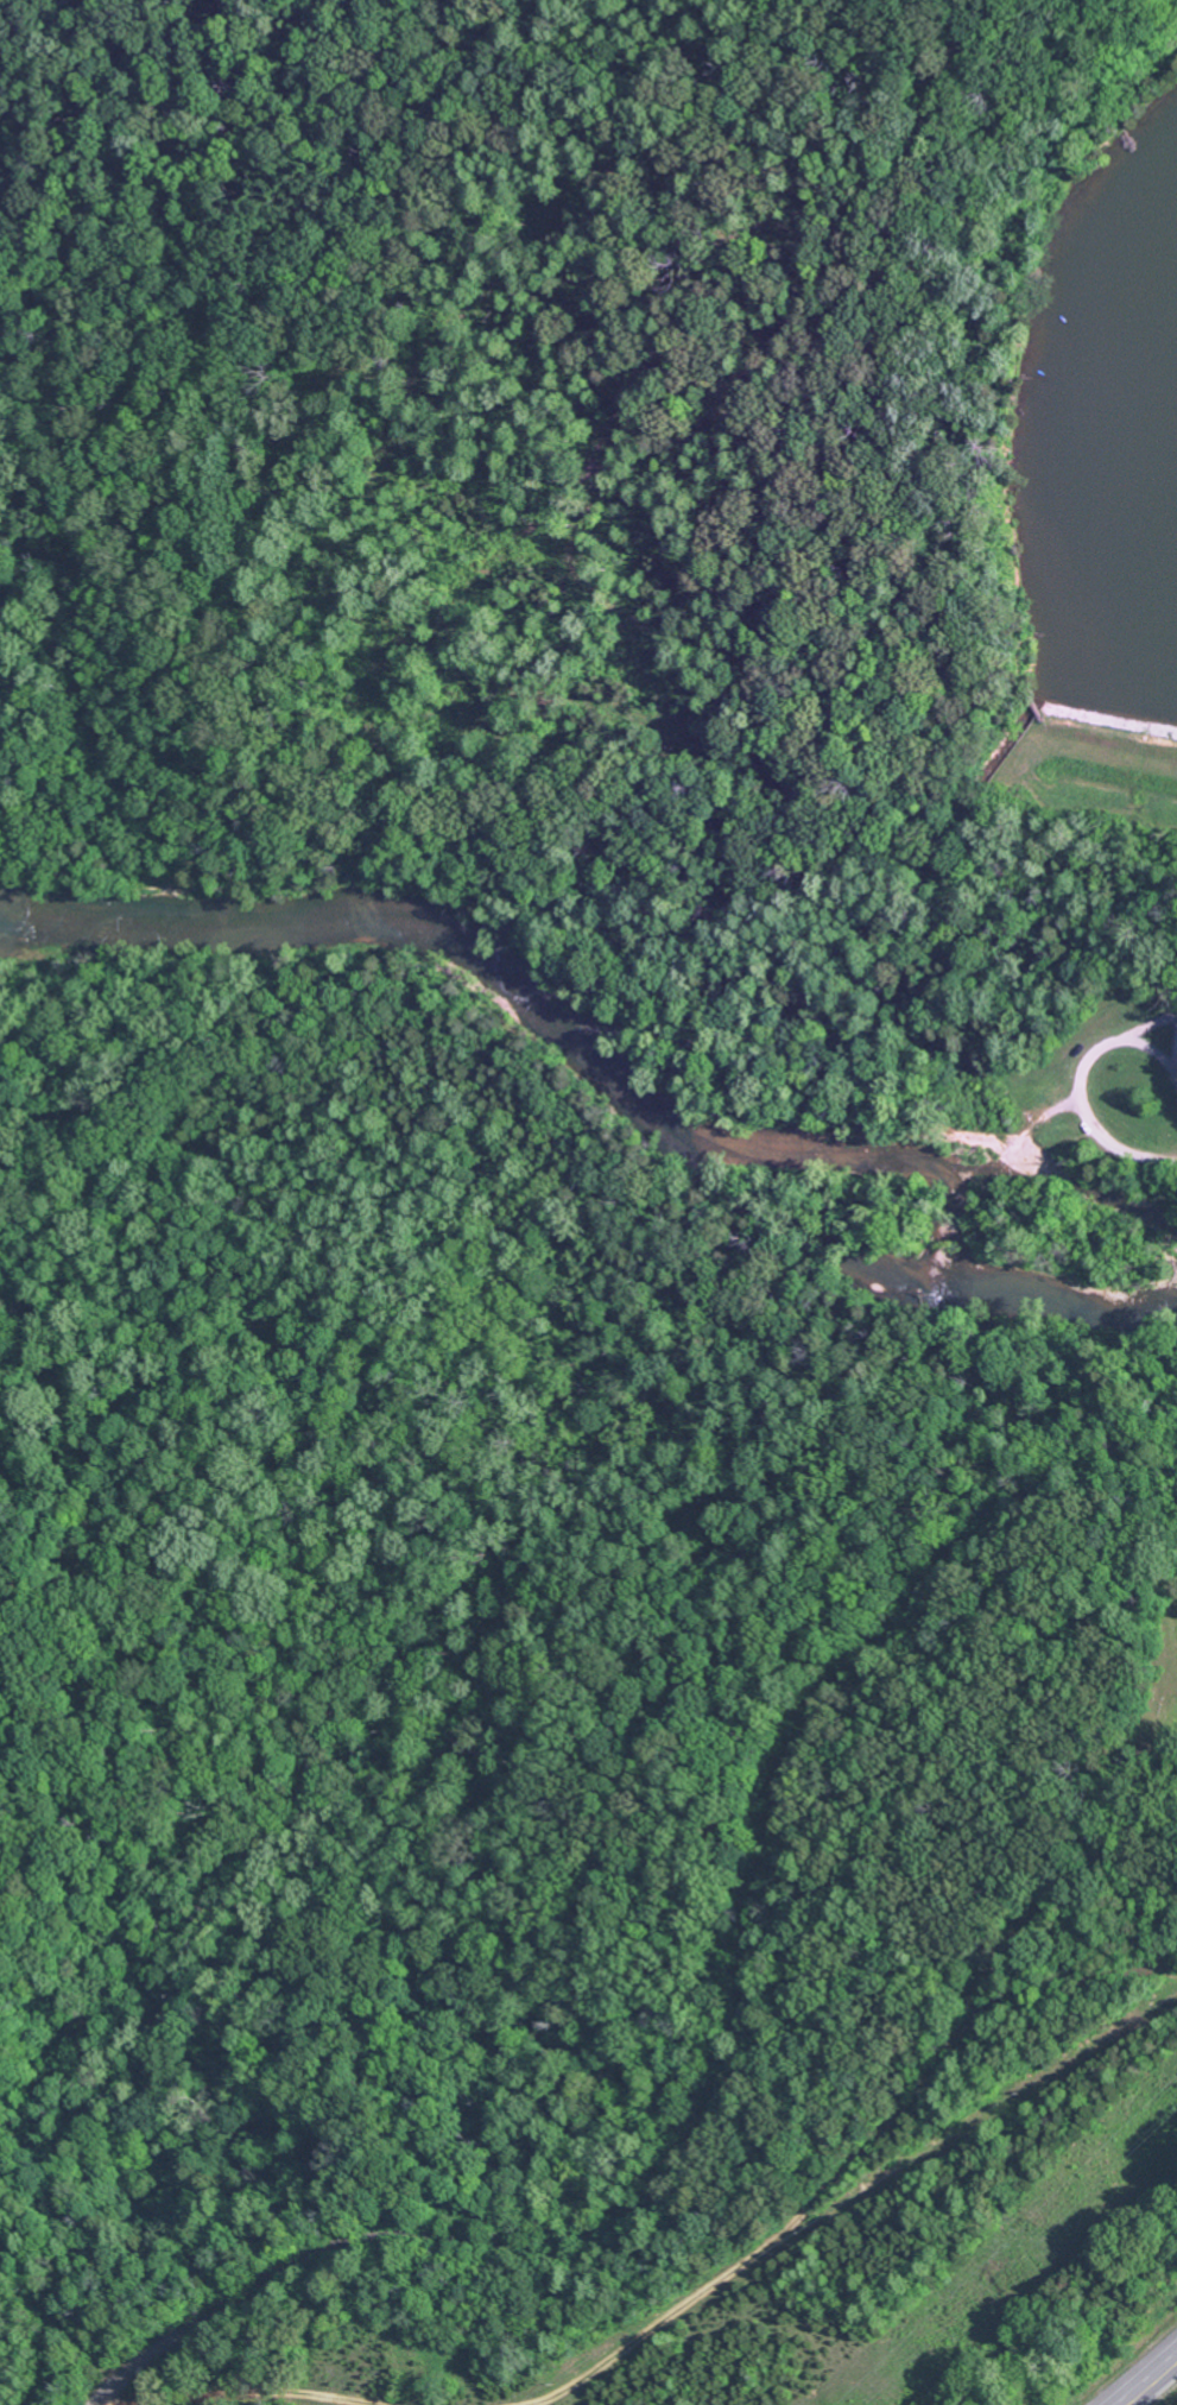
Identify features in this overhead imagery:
river: (621, 1067)
park: (1152, 1688)
road: (766, 2073)
road: (1148, 2380)

